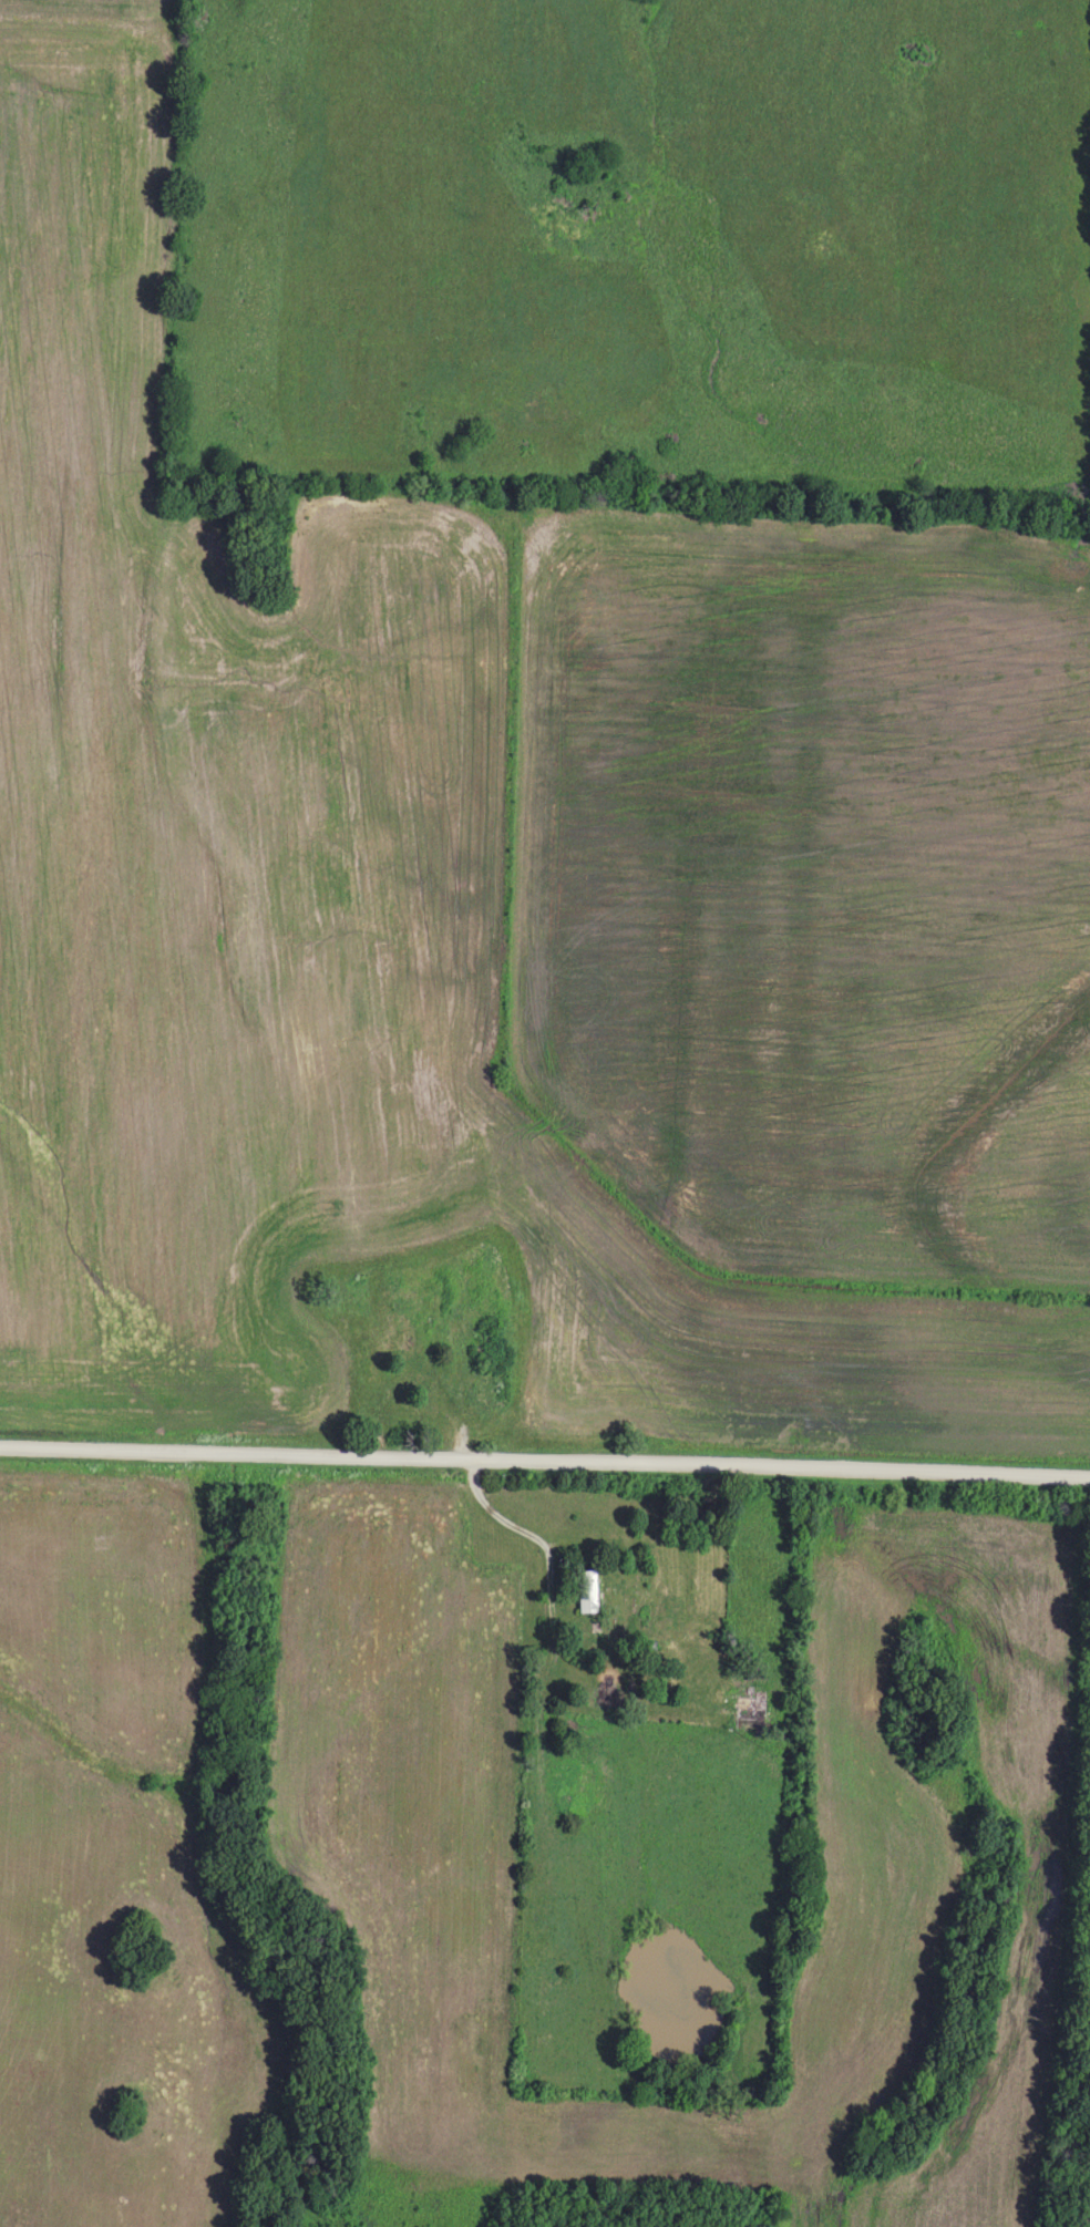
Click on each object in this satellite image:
building: (392, 1324)
road: (545, 1462)
road: (508, 1520)
building: (584, 1591)
building: (748, 1711)

